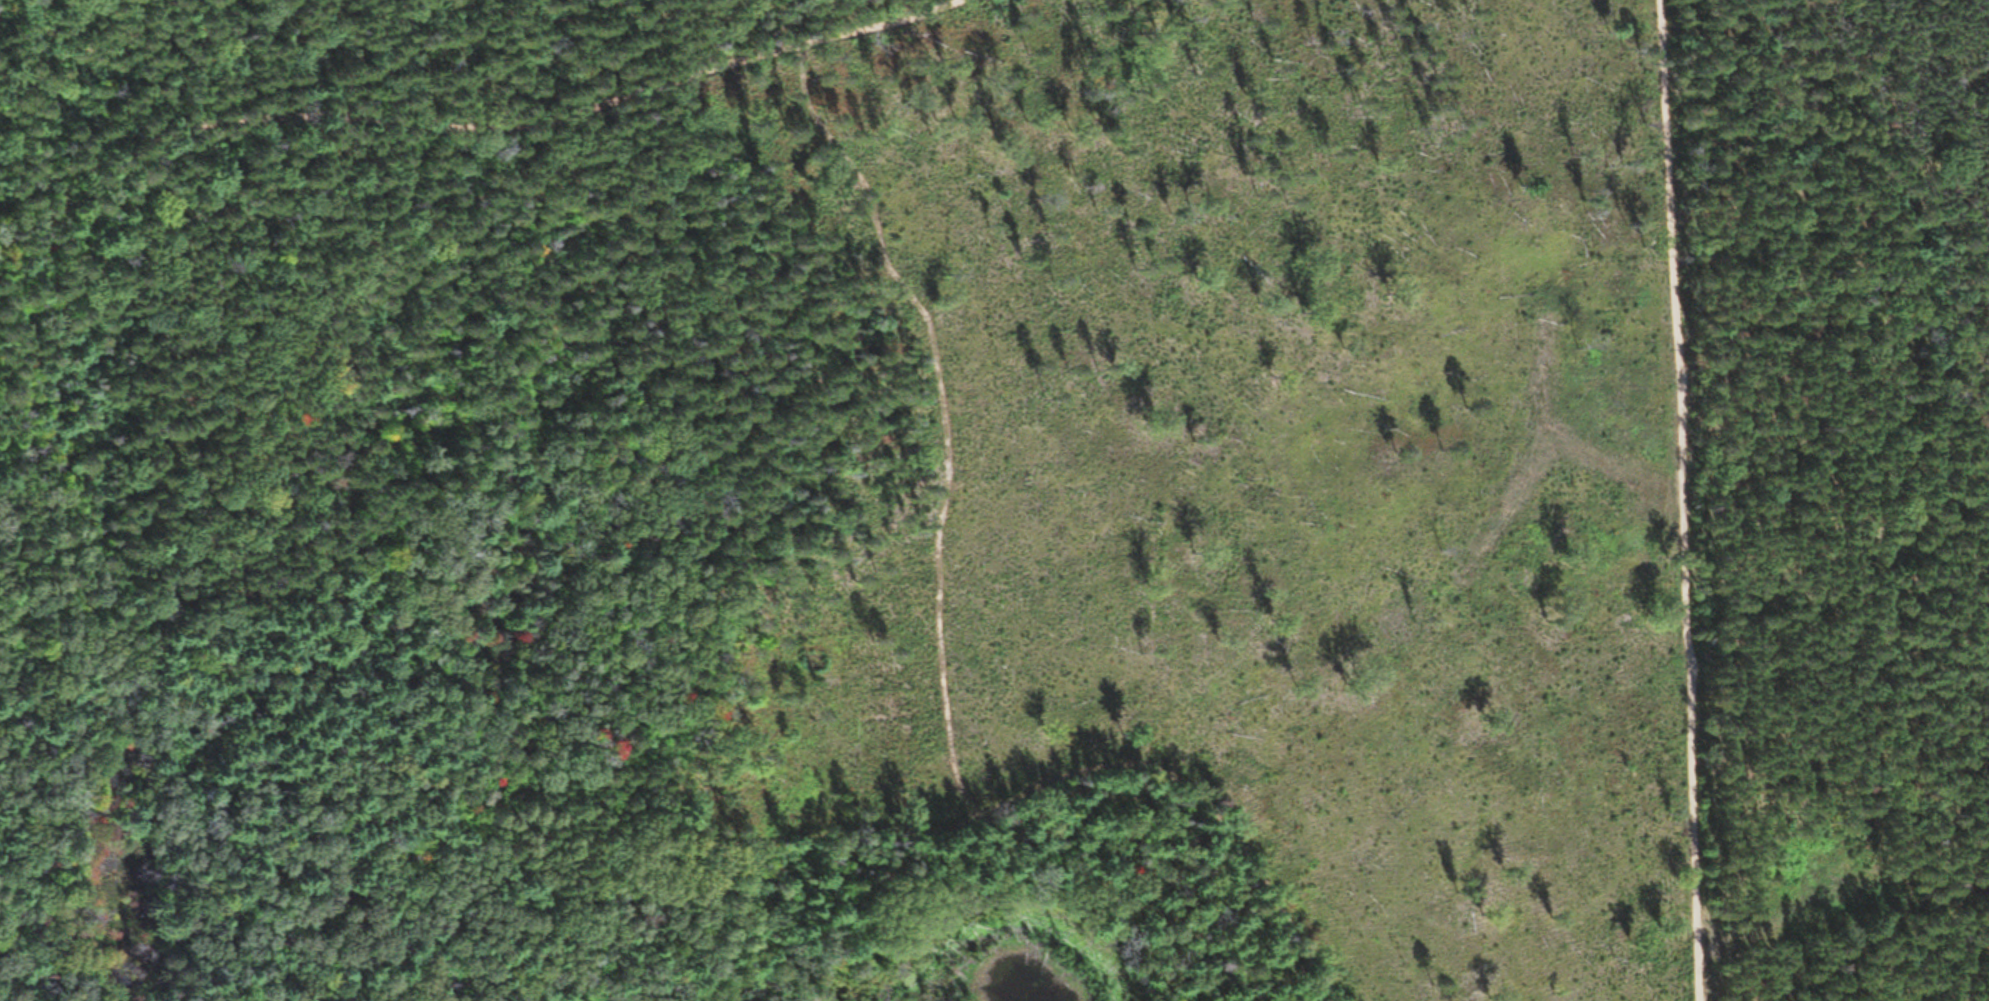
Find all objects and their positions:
road: (735, 51)
road: (1690, 500)
road: (706, 781)

